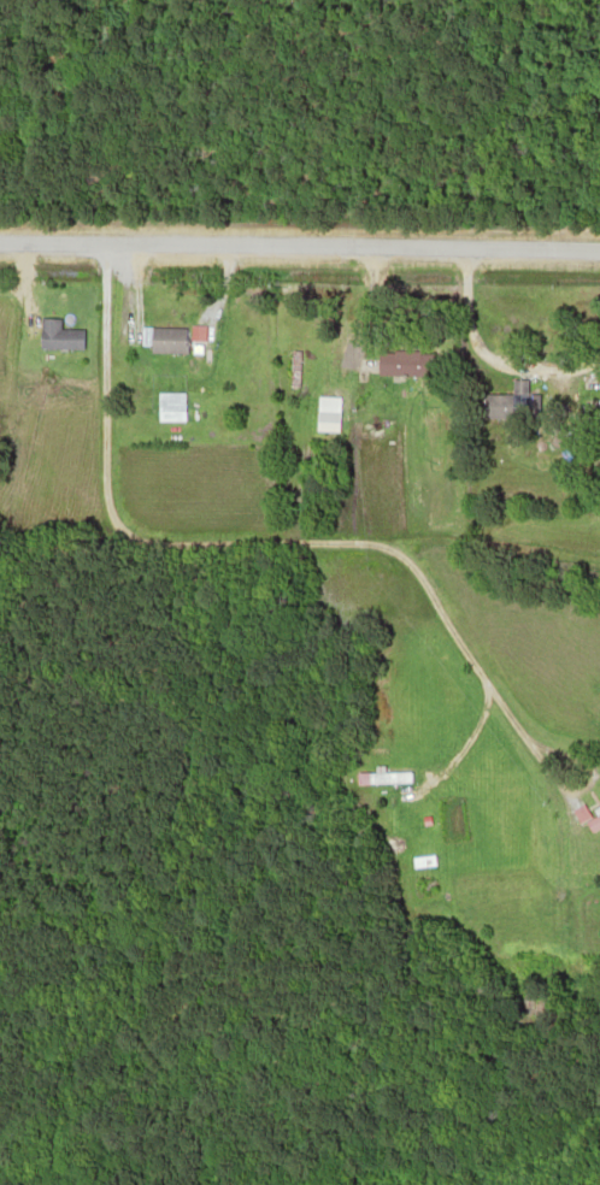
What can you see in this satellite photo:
road: (300, 243)
building: (60, 337)
building: (166, 338)
building: (404, 362)
building: (290, 367)
building: (508, 405)
building: (167, 417)
building: (324, 420)
building: (212, 437)
road: (306, 542)
building: (380, 779)
building: (593, 823)
building: (418, 862)

